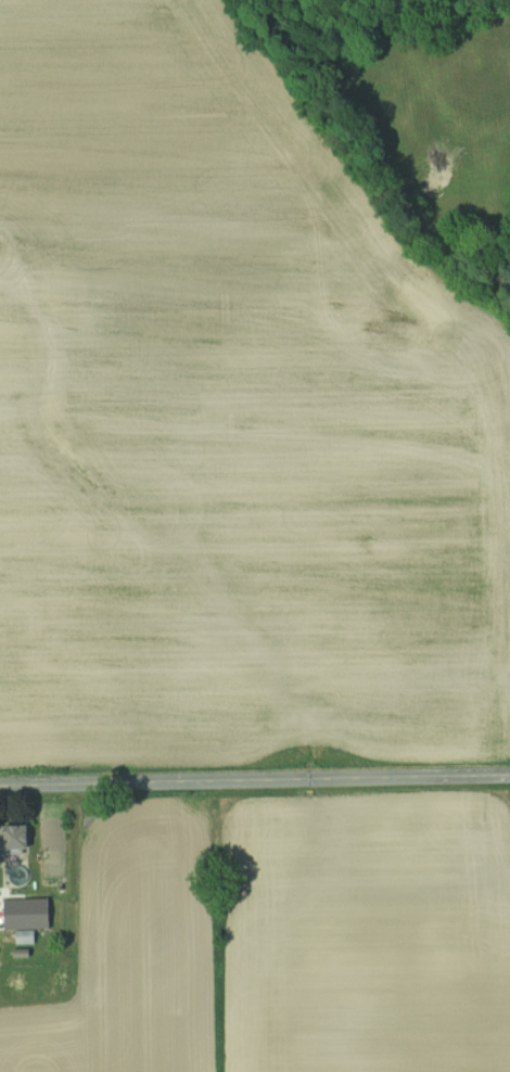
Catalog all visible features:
road: (254, 780)
building: (20, 840)
building: (28, 915)

